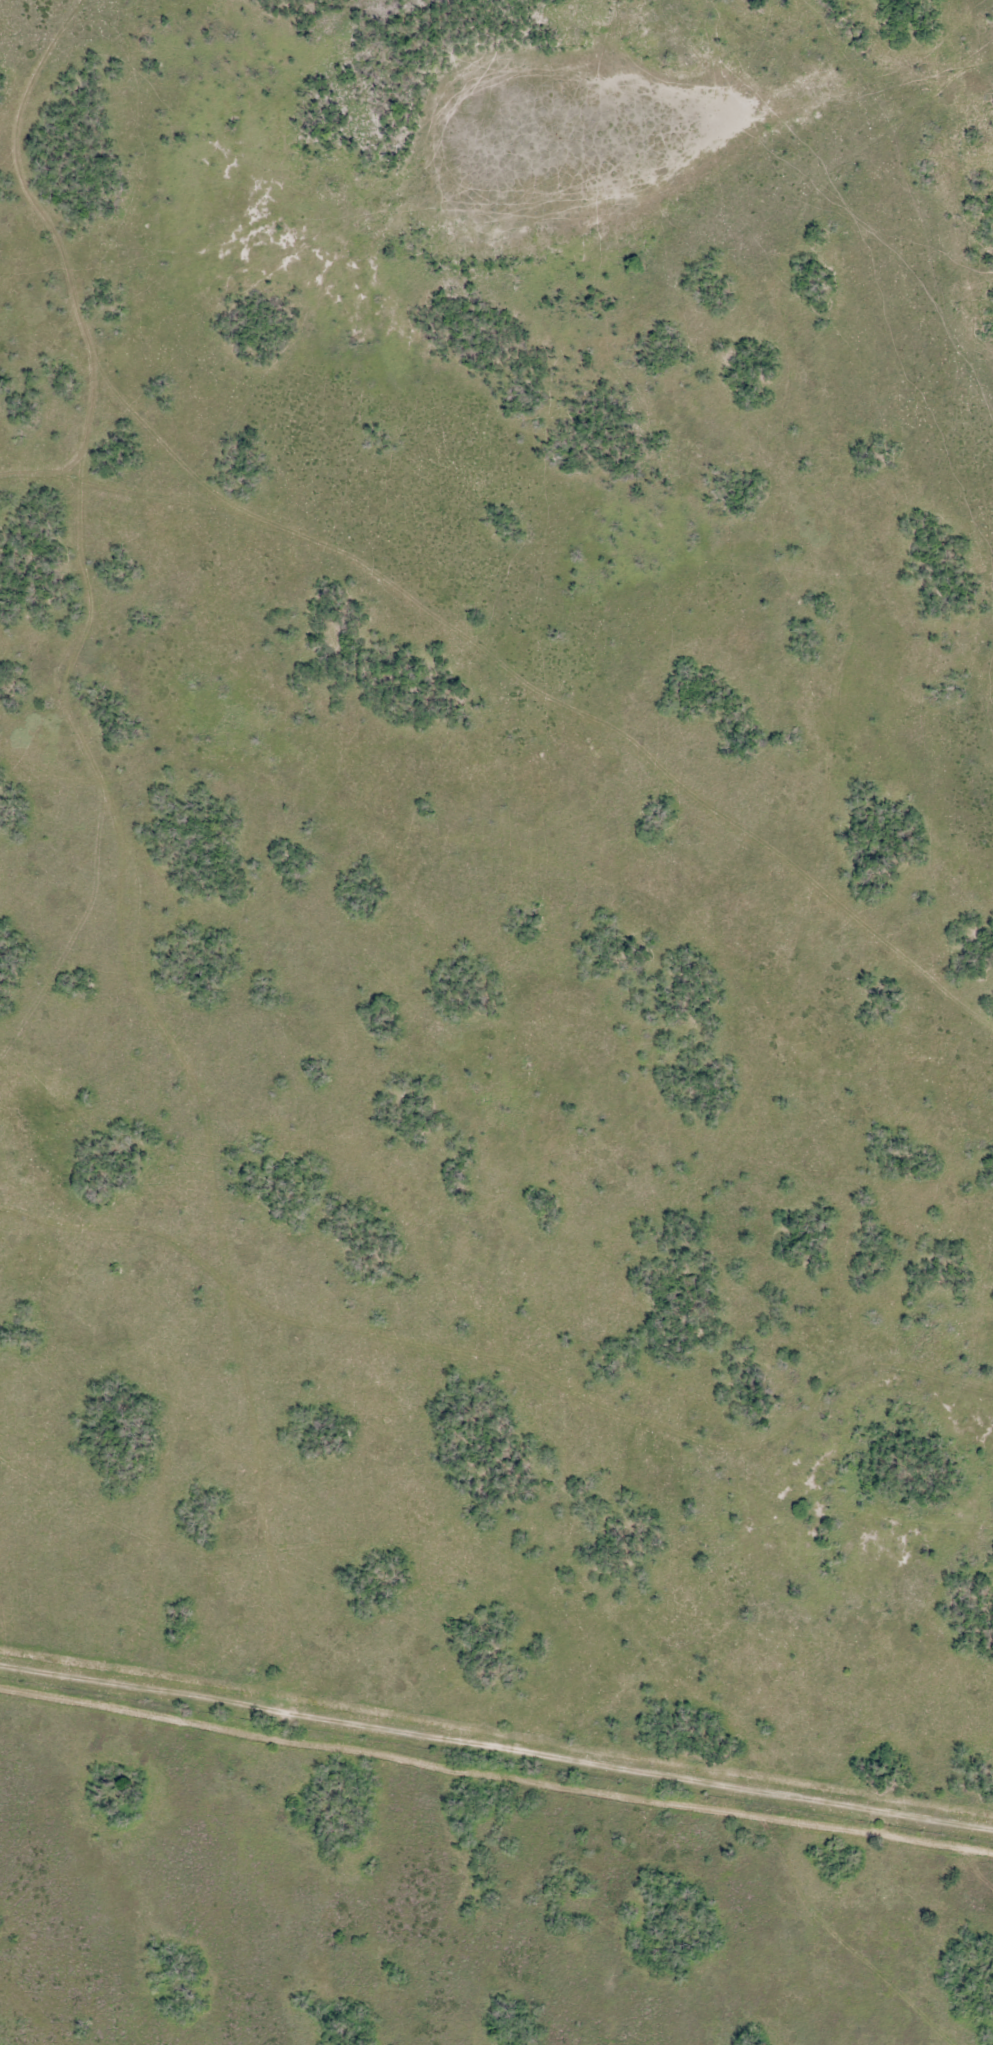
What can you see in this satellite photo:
road: (496, 1731)

